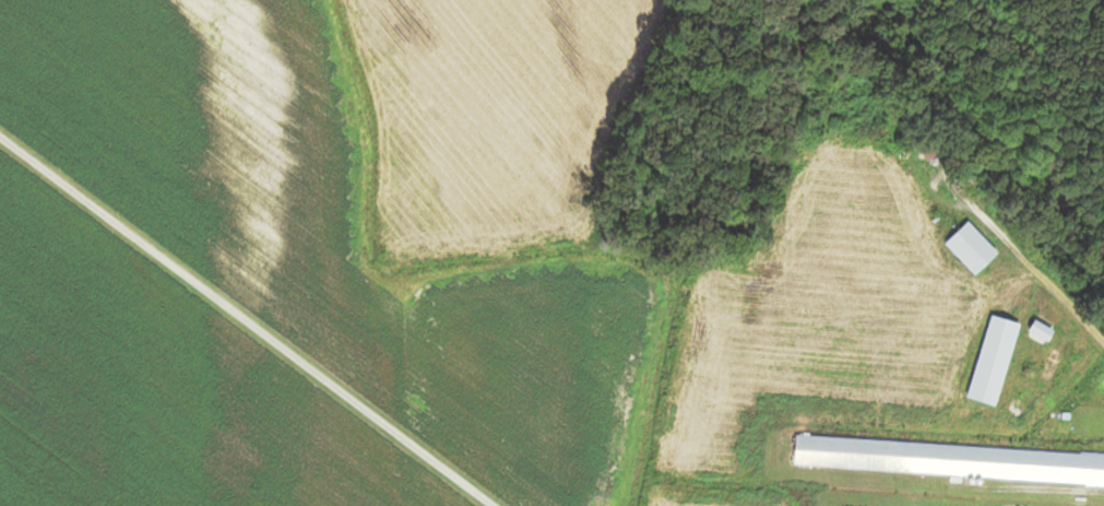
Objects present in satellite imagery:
building: (971, 249)
road: (1043, 275)
building: (1034, 332)
building: (992, 362)
building: (949, 461)

